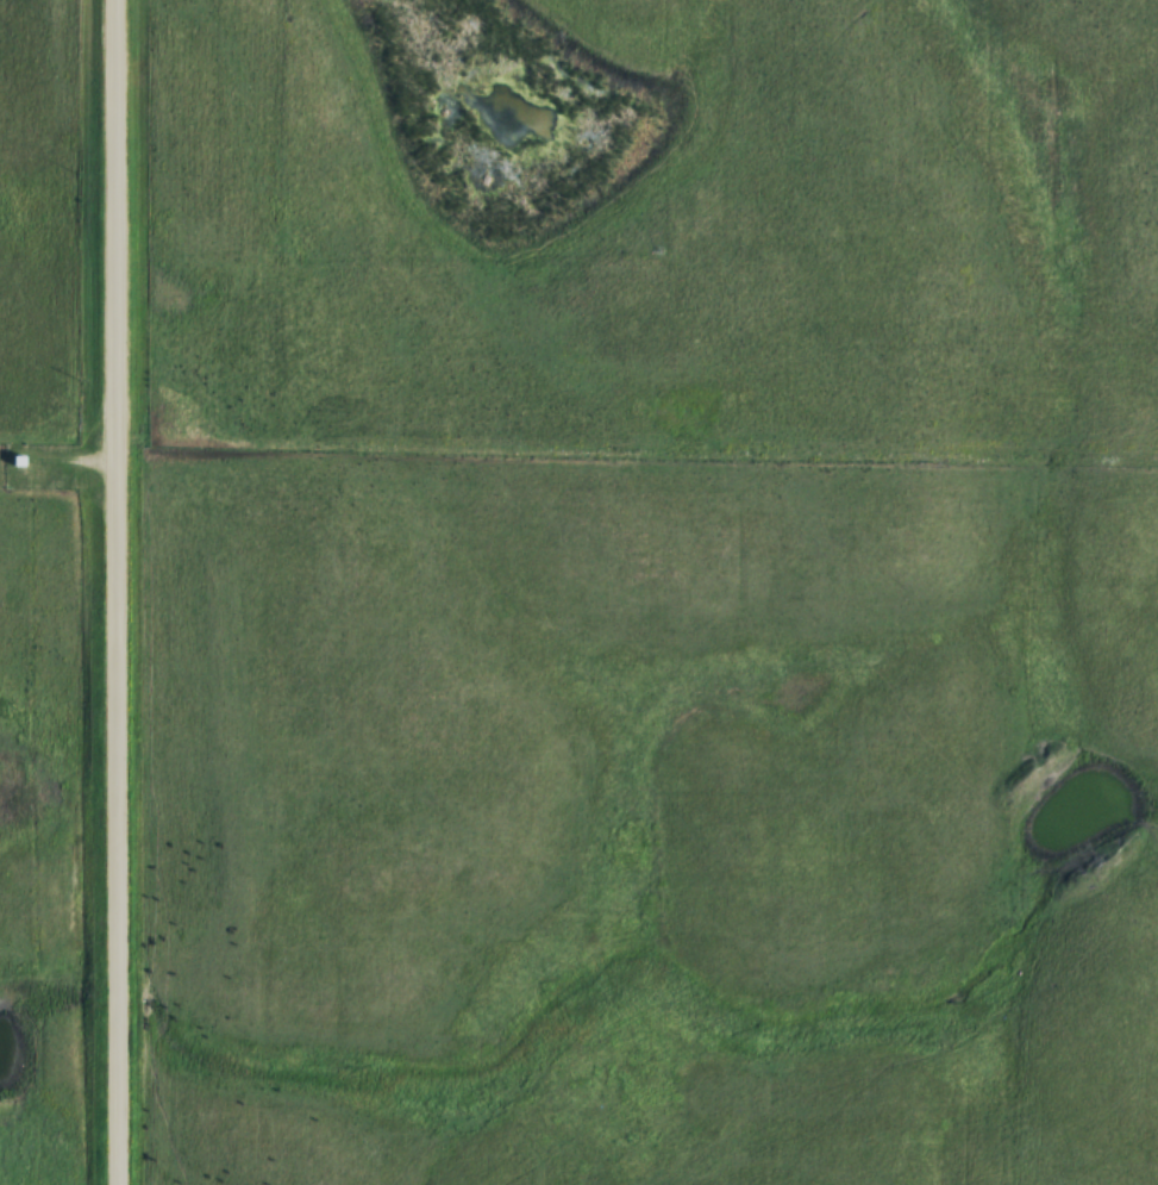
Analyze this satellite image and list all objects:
road: (132, 592)
river: (17, 1081)

